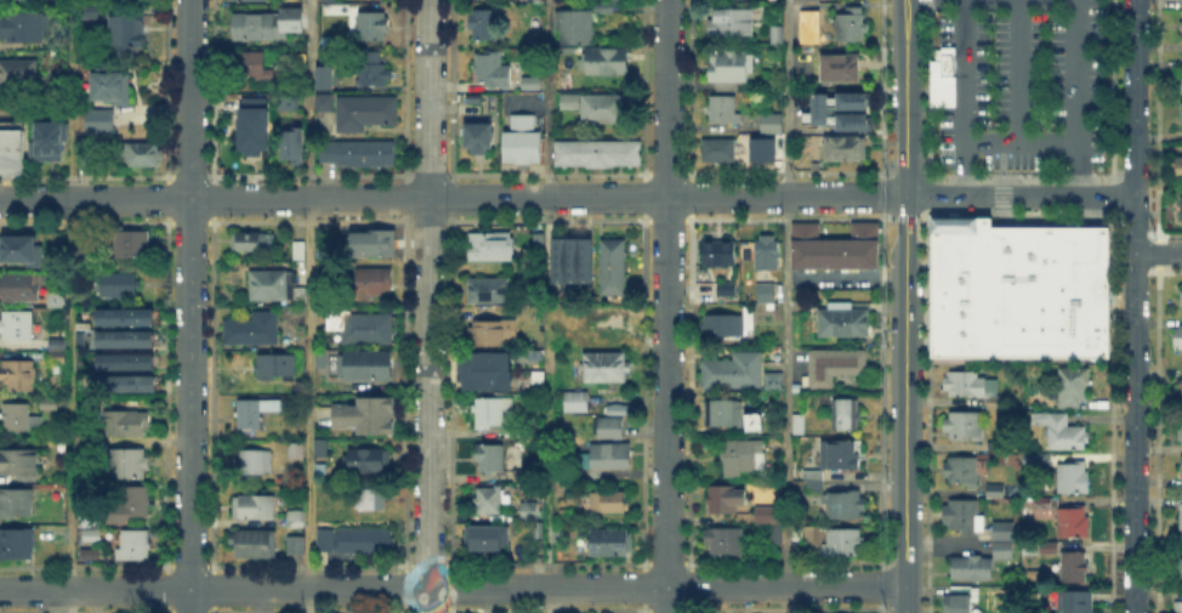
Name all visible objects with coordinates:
building: (330, 1)
building: (1180, 1)
building: (61, 12)
building: (90, 13)
building: (294, 19)
building: (729, 22)
building: (574, 25)
building: (485, 27)
building: (1180, 27)
building: (23, 28)
building: (252, 28)
building: (373, 28)
building: (852, 29)
building: (127, 33)
building: (778, 36)
building: (607, 62)
building: (249, 66)
building: (728, 68)
building: (841, 69)
building: (373, 70)
building: (490, 70)
road: (1019, 72)
building: (1180, 74)
building: (18, 75)
building: (322, 75)
building: (944, 75)
building: (527, 81)
building: (106, 85)
parking lot: (1022, 85)
road: (1080, 96)
road: (966, 97)
road: (1135, 97)
building: (319, 100)
building: (286, 101)
building: (852, 101)
building: (598, 108)
building: (360, 110)
building: (723, 110)
building: (823, 112)
building: (1180, 117)
building: (98, 121)
building: (852, 123)
building: (773, 124)
building: (255, 131)
building: (479, 138)
building: (524, 141)
building: (50, 143)
road: (1023, 143)
building: (294, 146)
building: (778, 146)
building: (12, 148)
building: (846, 151)
building: (718, 152)
building: (598, 153)
building: (359, 154)
building: (140, 157)
road: (309, 157)
building: (1176, 170)
road: (567, 197)
building: (1181, 209)
road: (1136, 225)
building: (127, 243)
building: (256, 243)
building: (539, 243)
building: (375, 244)
building: (19, 246)
building: (493, 248)
building: (84, 249)
building: (837, 249)
building: (300, 250)
building: (768, 254)
road: (1159, 254)
building: (718, 255)
building: (574, 257)
building: (614, 268)
building: (120, 284)
building: (374, 284)
building: (18, 285)
building: (1019, 285)
building: (722, 286)
building: (275, 288)
building: (490, 290)
building: (728, 290)
building: (767, 294)
building: (61, 295)
building: (1181, 297)
road: (70, 306)
road: (189, 306)
road: (428, 306)
road: (546, 306)
road: (665, 306)
road: (786, 306)
road: (905, 306)
building: (126, 314)
building: (843, 319)
building: (610, 322)
building: (18, 327)
building: (359, 327)
building: (728, 327)
building: (252, 330)
building: (488, 334)
building: (126, 336)
building: (1178, 337)
building: (530, 353)
building: (58, 357)
building: (125, 358)
building: (322, 361)
building: (835, 367)
building: (277, 368)
building: (368, 368)
building: (608, 368)
building: (483, 369)
building: (729, 369)
building: (534, 374)
building: (19, 375)
building: (769, 379)
building: (129, 381)
building: (966, 384)
building: (1075, 388)
building: (1181, 391)
building: (1002, 402)
building: (576, 403)
building: (49, 404)
building: (368, 413)
building: (254, 414)
building: (721, 414)
building: (496, 415)
building: (846, 415)
building: (18, 419)
building: (124, 425)
building: (965, 425)
building: (799, 426)
building: (1178, 426)
building: (1062, 431)
road: (1136, 433)
building: (535, 443)
building: (322, 449)
building: (607, 450)
building: (999, 450)
building: (297, 452)
building: (741, 455)
building: (491, 458)
building: (1039, 459)
building: (18, 462)
building: (126, 462)
building: (254, 462)
road: (308, 462)
building: (369, 462)
building: (831, 462)
building: (1180, 465)
building: (961, 469)
building: (733, 473)
building: (1074, 478)
building: (559, 489)
building: (996, 490)
building: (489, 498)
building: (132, 501)
building: (370, 501)
building: (722, 501)
building: (607, 503)
building: (17, 505)
building: (845, 506)
building: (256, 509)
building: (528, 509)
building: (1044, 510)
building: (965, 517)
building: (1180, 521)
building: (296, 522)
building: (1075, 522)
building: (87, 523)
building: (771, 523)
building: (1002, 532)
building: (559, 534)
building: (92, 539)
building: (488, 539)
building: (326, 540)
building: (846, 543)
building: (250, 544)
building: (369, 544)
building: (614, 544)
building: (724, 544)
building: (17, 545)
building: (135, 545)
building: (296, 547)
building: (1049, 547)
building: (1004, 552)
building: (972, 567)
building: (1075, 568)
building: (1178, 568)
road: (453, 588)
building: (962, 600)
building: (1078, 603)
building: (1181, 607)

